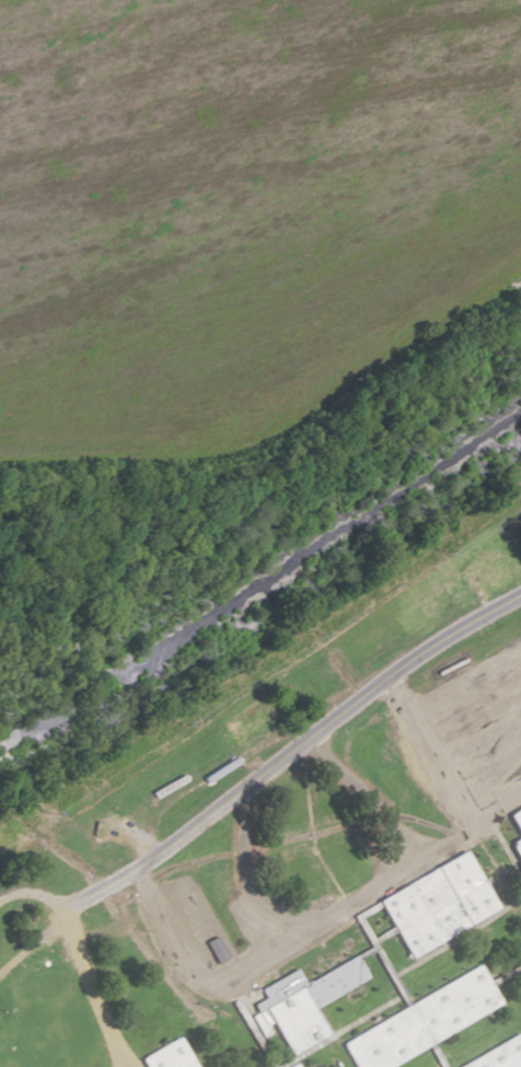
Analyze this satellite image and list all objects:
building: (484, 572)
road: (465, 679)
building: (245, 721)
parking lot: (467, 734)
road: (257, 777)
road: (452, 786)
road: (361, 799)
road: (497, 808)
building: (514, 831)
road: (506, 854)
road: (244, 874)
road: (498, 875)
road: (32, 894)
building: (436, 903)
road: (381, 935)
road: (453, 935)
parking lot: (218, 939)
building: (216, 949)
road: (363, 952)
road: (415, 962)
road: (252, 964)
road: (505, 974)
road: (90, 989)
road: (398, 990)
building: (304, 1001)
building: (420, 1021)
road: (338, 1031)
road: (251, 1033)
road: (310, 1045)
building: (498, 1054)
road: (435, 1055)
building: (166, 1056)
building: (292, 1065)

